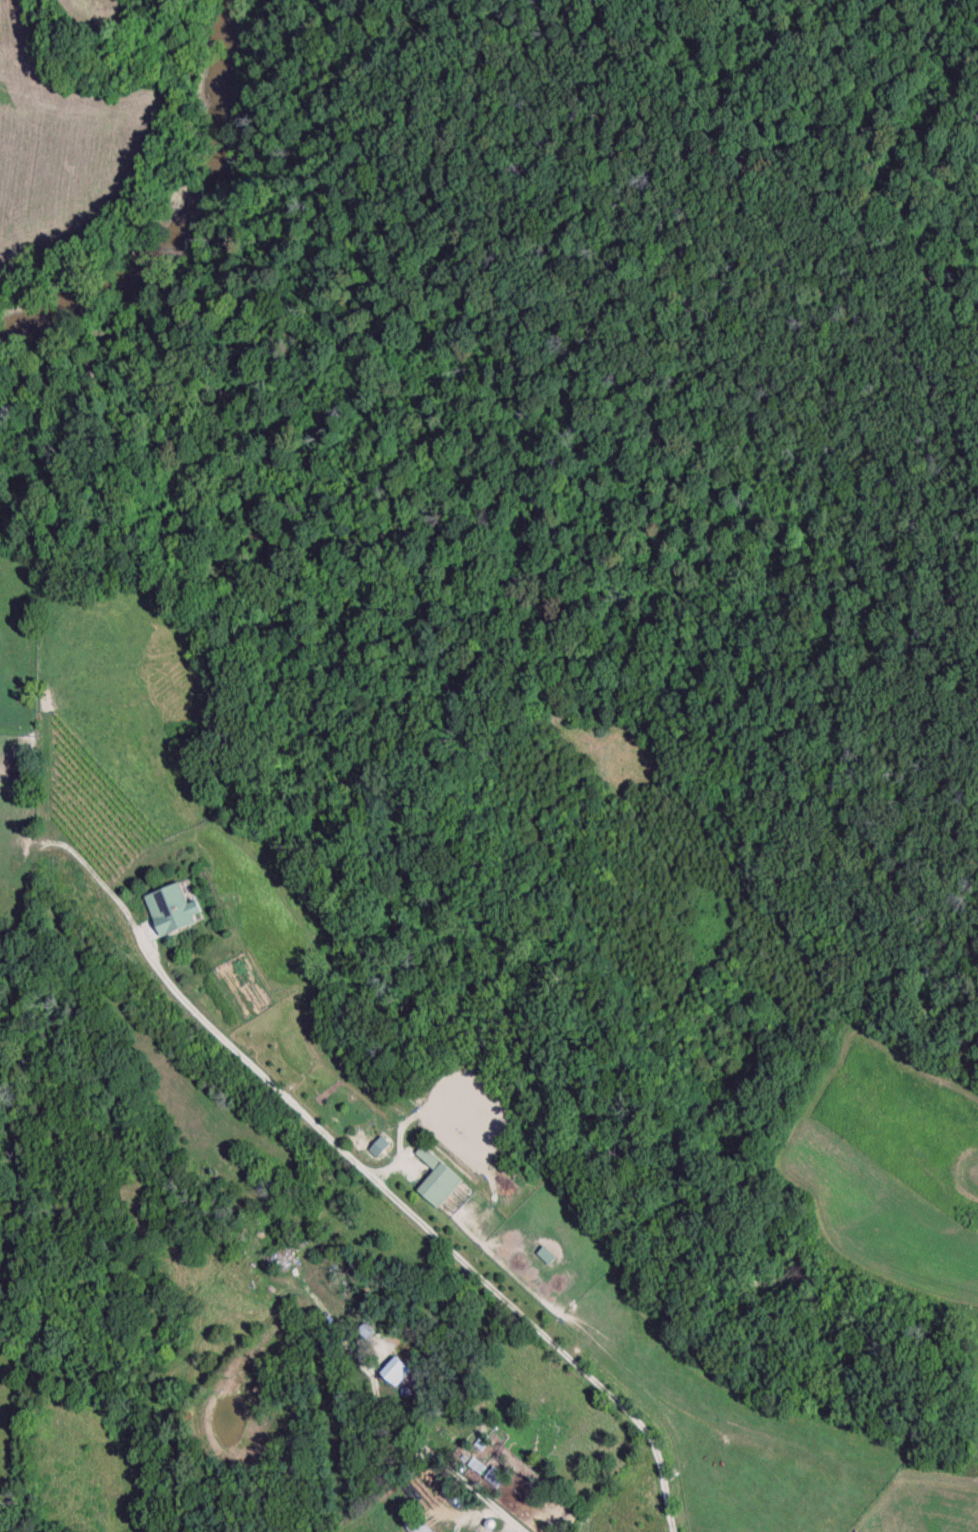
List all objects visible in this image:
river: (169, 194)
building: (173, 912)
building: (437, 1181)
road: (441, 1232)
building: (546, 1258)
building: (395, 1373)
building: (426, 1401)
building: (477, 1468)
road: (444, 1472)
building: (451, 1502)
building: (417, 1525)

